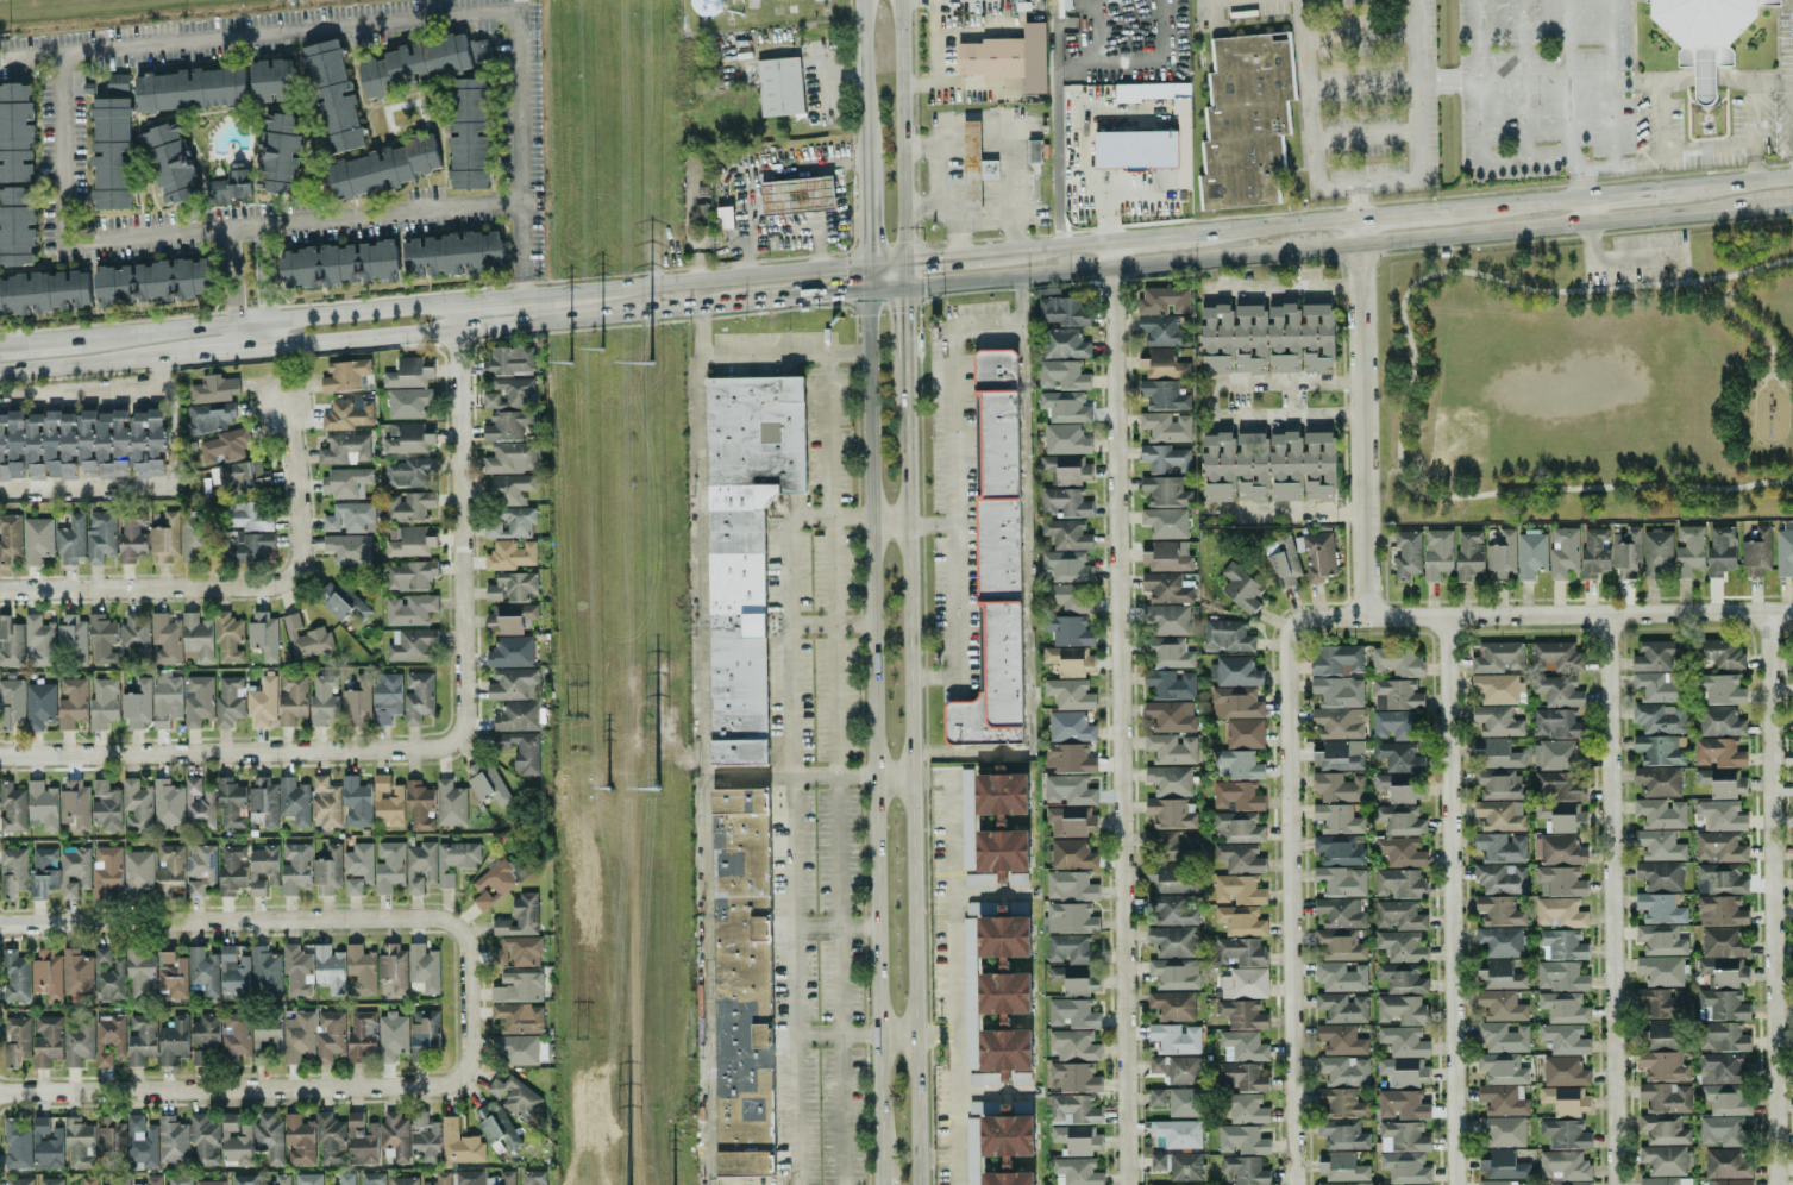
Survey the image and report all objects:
road: (752, 1)
railway: (68, 6)
building: (708, 6)
road: (1208, 12)
road: (972, 32)
building: (1705, 35)
road: (1358, 36)
road: (108, 48)
road: (31, 56)
building: (1008, 57)
road: (935, 58)
building: (414, 63)
road: (860, 70)
road: (1700, 77)
road: (1519, 79)
building: (272, 80)
road: (1360, 82)
road: (1606, 83)
road: (971, 84)
building: (117, 86)
building: (779, 86)
building: (190, 89)
road: (1416, 92)
road: (1305, 94)
building: (333, 95)
building: (1246, 119)
road: (1659, 119)
road: (1477, 124)
road: (901, 128)
road: (1791, 131)
building: (15, 132)
building: (469, 133)
road: (1750, 133)
building: (1148, 134)
road: (1363, 137)
road: (1013, 150)
building: (1034, 151)
building: (112, 153)
building: (278, 153)
building: (170, 163)
road: (863, 164)
road: (807, 167)
building: (383, 168)
road: (1578, 169)
road: (943, 175)
road: (1087, 178)
road: (1739, 182)
road: (1579, 183)
building: (230, 184)
road: (1363, 184)
road: (1636, 192)
building: (797, 194)
road: (1529, 200)
road: (1359, 201)
road: (1586, 209)
road: (1418, 212)
building: (725, 218)
road: (751, 224)
road: (1284, 224)
road: (996, 225)
building: (17, 226)
road: (952, 230)
road: (1156, 234)
road: (864, 238)
traffic signals: (865, 239)
road: (1062, 244)
road: (1348, 244)
building: (452, 253)
road: (941, 256)
traffic signals: (927, 257)
parking lot: (1636, 261)
road: (1618, 262)
building: (339, 264)
road: (262, 275)
road: (725, 275)
road: (230, 280)
building: (156, 281)
road: (1280, 289)
building: (45, 291)
traffic signals: (845, 291)
road: (829, 293)
road: (520, 294)
building: (1164, 300)
traffic signals: (904, 311)
building: (1061, 311)
road: (904, 316)
road: (267, 319)
road: (1737, 320)
road: (504, 322)
road: (253, 334)
building: (1266, 336)
building: (1064, 344)
road: (39, 345)
power tower: (600, 351)
road: (782, 351)
road: (202, 352)
building: (509, 360)
power tower: (650, 360)
power tower: (569, 364)
building: (1164, 364)
road: (75, 365)
building: (408, 374)
road: (159, 375)
building: (345, 375)
building: (1061, 375)
park: (1595, 381)
road: (1406, 385)
building: (214, 389)
building: (508, 393)
road: (84, 394)
building: (1164, 394)
road: (1205, 400)
building: (408, 402)
building: (1065, 406)
building: (347, 414)
building: (208, 416)
road: (1361, 416)
building: (507, 425)
building: (1166, 426)
building: (406, 438)
building: (1065, 439)
building: (80, 444)
building: (224, 446)
building: (345, 449)
building: (510, 458)
building: (1166, 458)
building: (1269, 463)
road: (954, 465)
building: (1066, 469)
building: (408, 472)
building: (242, 476)
building: (346, 482)
road: (132, 487)
building: (510, 488)
building: (1165, 490)
building: (1064, 502)
building: (408, 506)
road: (460, 508)
road: (1281, 513)
building: (246, 515)
building: (350, 518)
road: (889, 522)
building: (1165, 522)
building: (513, 523)
road: (930, 523)
building: (1067, 534)
building: (10, 535)
building: (100, 535)
building: (131, 537)
building: (195, 537)
building: (165, 538)
building: (37, 539)
building: (71, 540)
building: (408, 541)
building: (745, 545)
building: (246, 546)
building: (350, 548)
building: (1688, 550)
building: (1720, 550)
building: (1757, 550)
building: (1785, 550)
building: (1594, 551)
building: (1626, 551)
building: (1563, 552)
building: (1656, 552)
building: (1408, 553)
building: (1437, 553)
building: (1468, 553)
building: (1531, 553)
building: (510, 554)
building: (1502, 554)
building: (1166, 556)
building: (1318, 557)
building: (996, 560)
building: (1284, 563)
building: (1067, 565)
building: (409, 575)
road: (232, 585)
building: (512, 587)
building: (1166, 587)
building: (1241, 588)
road: (1026, 595)
building: (1066, 597)
building: (410, 609)
road: (1542, 614)
building: (512, 616)
building: (1167, 619)
road: (832, 626)
building: (1068, 629)
building: (263, 633)
building: (1227, 635)
building: (119, 637)
building: (71, 638)
building: (196, 638)
building: (228, 638)
building: (306, 638)
building: (165, 639)
building: (39, 641)
building: (11, 642)
building: (410, 644)
building: (512, 652)
building: (1168, 652)
building: (1720, 653)
building: (1555, 656)
building: (1656, 656)
building: (1497, 657)
building: (1068, 659)
building: (1336, 659)
building: (1397, 660)
building: (1235, 671)
building: (1171, 683)
building: (514, 684)
building: (1654, 686)
building: (1498, 688)
building: (1720, 689)
building: (1559, 690)
building: (1339, 691)
building: (1398, 692)
building: (1070, 694)
building: (385, 697)
building: (418, 697)
building: (165, 698)
building: (291, 698)
building: (198, 700)
building: (228, 700)
building: (322, 700)
building: (357, 700)
building: (71, 702)
building: (104, 702)
building: (262, 702)
building: (1235, 702)
building: (11, 703)
building: (137, 703)
building: (40, 706)
road: (1120, 711)
building: (1171, 715)
building: (518, 716)
building: (1659, 717)
power tower: (571, 719)
building: (1497, 721)
building: (1719, 721)
building: (1339, 722)
building: (1555, 722)
building: (1393, 725)
building: (1068, 727)
building: (1245, 733)
road: (874, 736)
road: (702, 745)
building: (1171, 748)
building: (1659, 750)
road: (240, 751)
building: (1718, 752)
building: (1340, 754)
building: (1497, 754)
building: (1556, 754)
building: (1398, 755)
building: (1068, 758)
building: (1237, 764)
road: (835, 767)
road: (895, 773)
road: (789, 776)
road: (914, 779)
building: (1170, 779)
building: (1657, 780)
building: (1720, 782)
building: (1498, 783)
building: (1560, 784)
building: (489, 786)
power tower: (654, 786)
building: (1339, 786)
building: (1396, 786)
power tower: (608, 788)
building: (1067, 789)
building: (1235, 796)
building: (263, 801)
building: (294, 801)
building: (325, 801)
building: (356, 802)
building: (387, 802)
building: (167, 803)
building: (231, 803)
building: (450, 803)
building: (42, 804)
building: (199, 804)
building: (137, 805)
building: (419, 805)
building: (12, 808)
building: (75, 808)
building: (106, 808)
road: (792, 810)
building: (1172, 813)
building: (1661, 813)
building: (1499, 815)
building: (1561, 815)
building: (1720, 815)
building: (966, 819)
building: (1337, 819)
building: (1399, 819)
building: (1070, 821)
building: (1237, 827)
building: (1173, 845)
building: (1660, 845)
building: (1500, 846)
building: (1718, 847)
building: (1337, 849)
building: (1557, 849)
building: (1400, 851)
building: (1002, 852)
building: (1071, 853)
building: (1240, 858)
building: (454, 860)
building: (388, 866)
building: (420, 866)
building: (263, 867)
building: (294, 867)
building: (357, 867)
building: (200, 869)
building: (232, 869)
building: (328, 869)
building: (12, 871)
building: (43, 871)
building: (106, 871)
building: (169, 871)
building: (74, 872)
building: (137, 872)
building: (1659, 874)
building: (1170, 878)
building: (1500, 878)
building: (1719, 878)
building: (979, 879)
building: (1341, 880)
building: (1560, 880)
building: (495, 882)
building: (1399, 883)
building: (1070, 885)
building: (1239, 889)
road: (991, 892)
road: (1775, 898)
road: (1450, 899)
road: (1610, 899)
road: (1290, 901)
building: (980, 907)
building: (1661, 908)
building: (1170, 909)
building: (1499, 910)
building: (1720, 910)
building: (1339, 911)
building: (1560, 911)
building: (1399, 915)
building: (520, 916)
building: (1068, 917)
road: (278, 918)
building: (1241, 920)
road: (835, 926)
building: (1661, 940)
building: (1172, 941)
building: (1500, 941)
building: (1722, 942)
building: (1561, 945)
building: (1400, 946)
building: (1068, 948)
building: (520, 951)
building: (1241, 951)
building: (1003, 965)
building: (394, 967)
building: (265, 968)
building: (330, 968)
building: (361, 970)
building: (422, 970)
building: (1661, 970)
building: (233, 971)
building: (297, 971)
building: (1723, 971)
building: (77, 972)
building: (202, 972)
building: (48, 973)
building: (140, 973)
building: (1174, 973)
building: (108, 974)
building: (1560, 976)
road: (955, 977)
building: (1341, 977)
building: (15, 978)
building: (1402, 978)
building: (1079, 980)
building: (741, 982)
building: (1245, 983)
building: (518, 986)
building: (968, 992)
building: (1663, 1002)
building: (1172, 1005)
building: (1500, 1005)
building: (1722, 1005)
building: (1342, 1007)
building: (1563, 1007)
building: (1402, 1009)
building: (1071, 1014)
building: (1242, 1014)
building: (519, 1017)
building: (205, 1030)
building: (236, 1034)
building: (330, 1035)
building: (393, 1035)
road: (838, 1035)
road: (897, 1035)
road: (936, 1035)
building: (1660, 1035)
building: (299, 1036)
building: (362, 1036)
building: (1502, 1036)
building: (1722, 1036)
power tower: (578, 1037)
building: (140, 1039)
building: (1341, 1039)
building: (1563, 1039)
building: (17, 1040)
building: (46, 1040)
building: (109, 1040)
building: (173, 1040)
building: (267, 1041)
building: (1403, 1041)
building: (79, 1042)
building: (1074, 1045)
building: (1242, 1046)
building: (520, 1049)
building: (1002, 1055)
building: (200, 1057)
building: (1663, 1065)
building: (1502, 1067)
building: (1720, 1067)
building: (1177, 1068)
building: (1343, 1070)
building: (1403, 1071)
building: (1563, 1071)
building: (1074, 1077)
building: (1240, 1077)
road: (262, 1086)
road: (993, 1091)
building: (514, 1095)
building: (1158, 1097)
building: (1665, 1097)
building: (1725, 1098)
building: (1565, 1099)
building: (1502, 1101)
building: (1184, 1102)
building: (1342, 1102)
building: (1402, 1104)
building: (984, 1106)
building: (1073, 1109)
building: (1247, 1109)
building: (1663, 1129)
building: (1503, 1130)
building: (1722, 1130)
building: (1178, 1133)
building: (1565, 1133)
building: (111, 1134)
building: (499, 1134)
building: (1342, 1134)
building: (1007, 1135)
building: (1404, 1135)
building: (269, 1136)
building: (394, 1136)
building: (330, 1137)
building: (424, 1137)
building: (173, 1139)
building: (1076, 1139)
building: (1241, 1139)
building: (299, 1140)
building: (361, 1140)
building: (203, 1141)
building: (236, 1141)
building: (142, 1142)
building: (458, 1142)
building: (17, 1143)
building: (79, 1143)
building: (46, 1145)
building: (972, 1150)
building: (1663, 1159)
building: (1726, 1162)
building: (1178, 1165)
building: (1504, 1165)
building: (1563, 1165)
building: (1342, 1167)
building: (1405, 1167)
building: (1246, 1170)
building: (1076, 1172)
building: (468, 1178)
building: (501, 1178)
building: (534, 1178)
building: (1008, 1178)
building: (118, 1179)
building: (281, 1179)
building: (307, 1179)
building: (345, 1179)
building: (371, 1179)
building: (439, 1179)
building: (88, 1180)
building: (151, 1180)
building: (178, 1180)
building: (243, 1180)
building: (403, 1180)
building: (1665, 1180)
building: (19, 1181)
building: (51, 1181)
building: (211, 1181)
building: (1729, 1181)
building: (1346, 1183)
building: (1503, 1183)
building: (1571, 1183)
building: (263, 1184)
building: (1196, 1184)
building: (1424, 1184)

